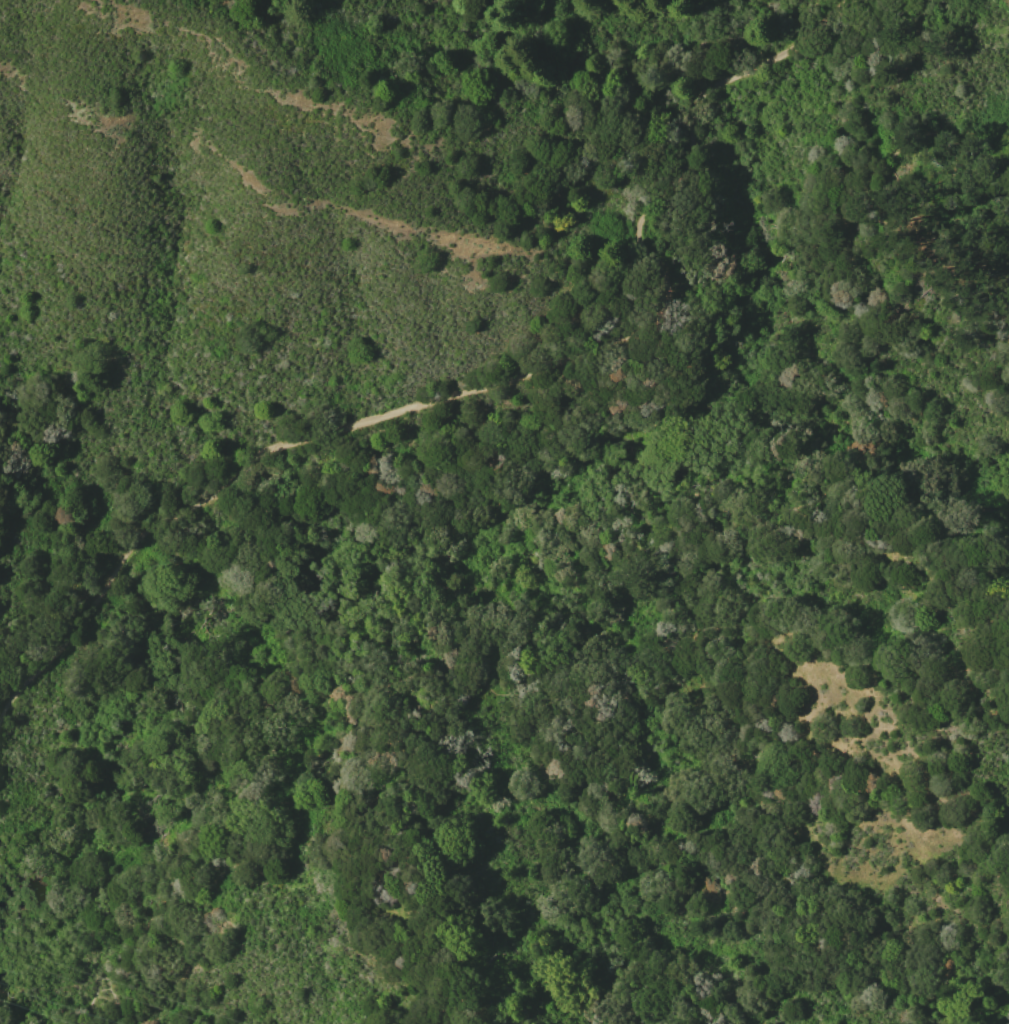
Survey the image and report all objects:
road: (881, 206)
road: (490, 385)
road: (669, 416)
road: (528, 690)
road: (412, 850)
road: (97, 980)
road: (459, 1012)
power tower: (125, 1019)

